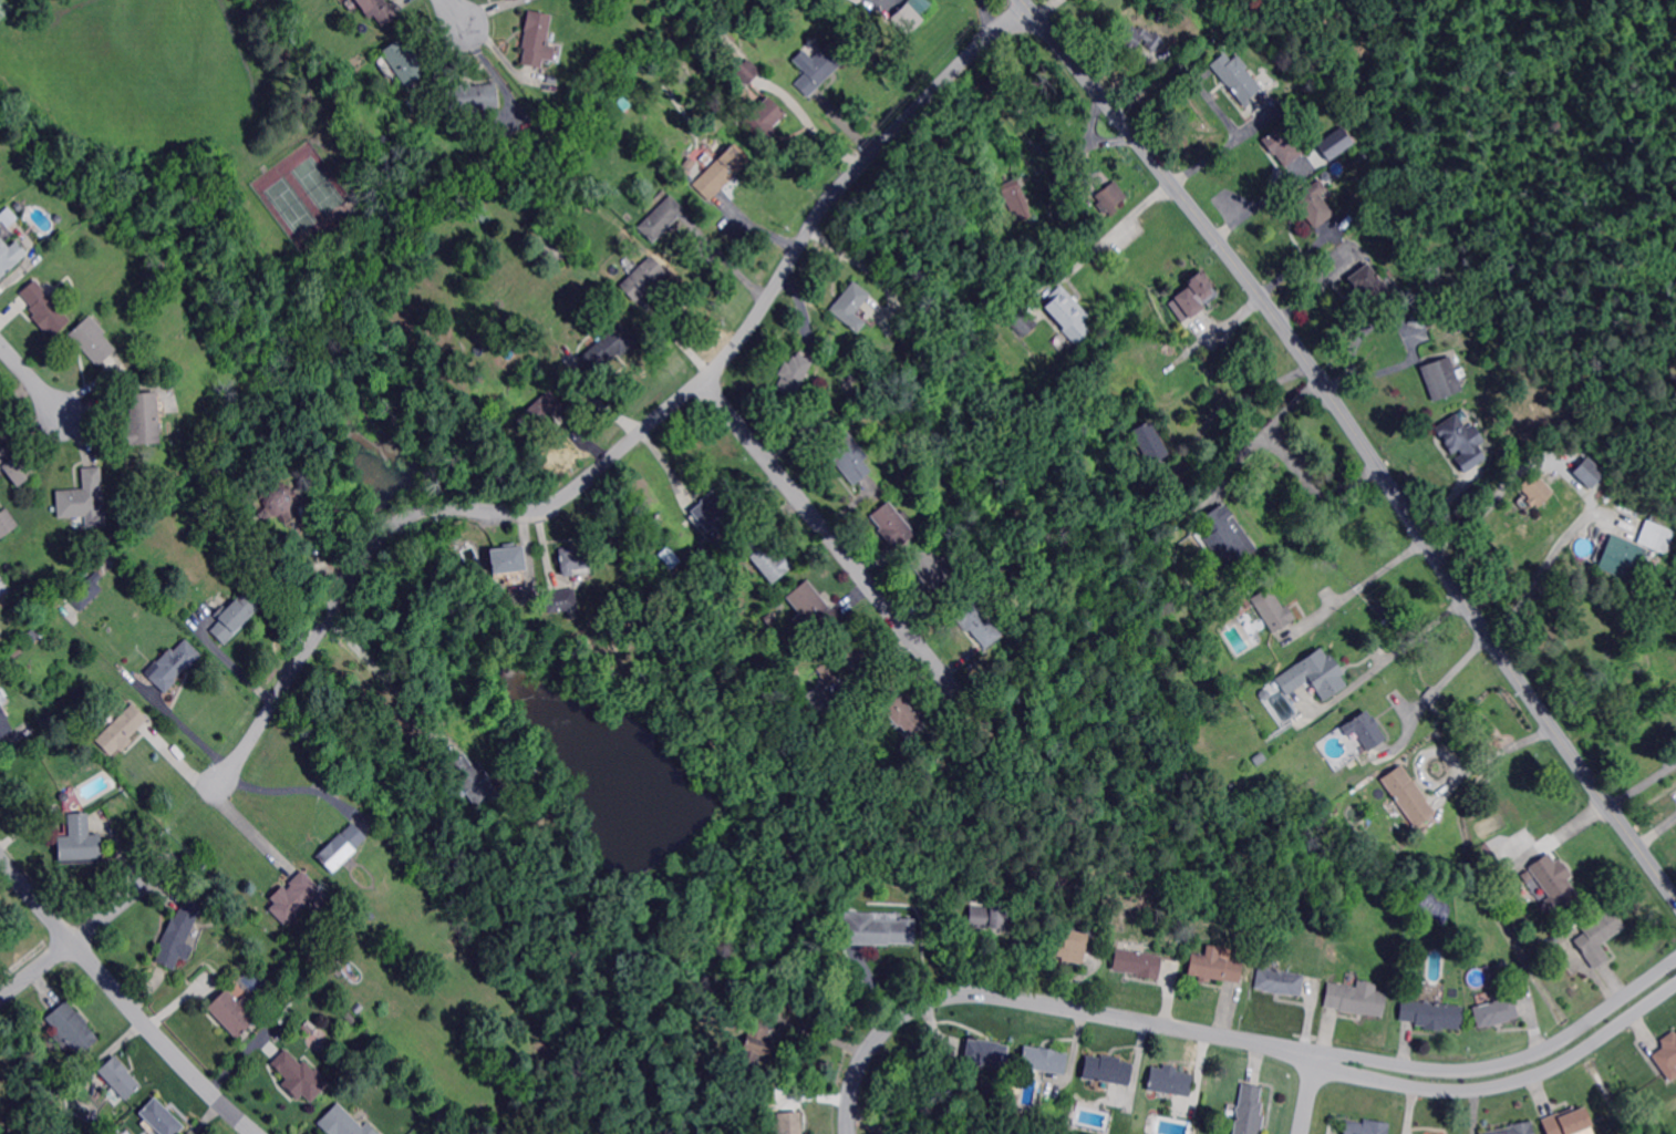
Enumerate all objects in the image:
building: (381, 10)
road: (457, 12)
road: (989, 16)
building: (907, 20)
building: (1139, 37)
building: (536, 39)
building: (404, 63)
building: (819, 66)
building: (746, 71)
building: (1238, 78)
road: (1210, 96)
building: (472, 100)
building: (623, 104)
building: (766, 117)
road: (820, 132)
building: (1333, 142)
building: (1282, 145)
building: (980, 151)
building: (1362, 156)
building: (689, 167)
building: (721, 173)
park: (302, 195)
building: (1016, 196)
building: (1111, 198)
road: (1258, 202)
building: (1314, 204)
building: (18, 207)
building: (483, 215)
building: (662, 218)
building: (6, 220)
road: (1115, 230)
building: (1400, 238)
building: (10, 256)
road: (728, 260)
building: (422, 269)
building: (149, 279)
building: (642, 279)
building: (1372, 285)
building: (1194, 298)
building: (1449, 305)
building: (852, 306)
building: (1438, 309)
building: (44, 310)
building: (1067, 315)
building: (1419, 317)
building: (1023, 322)
road: (1407, 336)
building: (93, 340)
building: (610, 347)
building: (795, 374)
building: (1152, 374)
building: (1440, 378)
road: (32, 379)
building: (542, 410)
building: (144, 419)
building: (0, 421)
building: (804, 423)
road: (1265, 430)
road: (638, 436)
road: (1361, 440)
building: (1458, 442)
building: (1150, 444)
building: (849, 456)
building: (14, 464)
building: (1587, 473)
building: (1535, 491)
building: (83, 497)
building: (278, 501)
building: (716, 508)
road: (1481, 512)
building: (656, 520)
building: (7, 523)
building: (893, 525)
road: (830, 536)
building: (455, 537)
building: (1227, 537)
building: (1654, 537)
building: (703, 550)
building: (765, 557)
building: (1621, 558)
building: (573, 560)
building: (508, 565)
building: (9, 569)
building: (928, 569)
building: (1209, 571)
road: (1539, 577)
road: (1361, 583)
building: (83, 597)
building: (561, 600)
building: (814, 606)
building: (1272, 610)
building: (234, 617)
building: (976, 622)
building: (35, 636)
road: (1399, 647)
building: (852, 652)
building: (1654, 662)
building: (175, 664)
building: (827, 674)
building: (1314, 674)
road: (385, 680)
road: (1432, 688)
building: (818, 700)
building: (898, 709)
building: (4, 718)
building: (49, 720)
building: (123, 730)
building: (1368, 730)
road: (1490, 753)
building: (1354, 762)
building: (473, 780)
road: (1642, 780)
building: (1375, 781)
road: (297, 787)
building: (1409, 796)
road: (232, 803)
road: (1569, 828)
building: (81, 842)
building: (343, 846)
building: (1554, 882)
building: (299, 897)
road: (126, 899)
building: (993, 916)
building: (376, 917)
building: (1521, 925)
building: (878, 930)
building: (179, 935)
building: (1600, 936)
building: (1553, 940)
building: (1073, 946)
building: (315, 962)
building: (1138, 963)
building: (1213, 966)
road: (37, 971)
building: (1277, 982)
building: (757, 994)
road: (124, 999)
building: (1356, 1000)
building: (360, 1008)
building: (1496, 1012)
building: (234, 1013)
building: (1432, 1014)
building: (73, 1028)
building: (308, 1028)
road: (1234, 1038)
building: (755, 1045)
building: (986, 1053)
building: (1667, 1053)
building: (1045, 1060)
building: (1108, 1070)
building: (299, 1075)
building: (121, 1078)
building: (1171, 1081)
road: (1310, 1095)
building: (1250, 1111)
building: (162, 1117)
building: (1568, 1122)
building: (345, 1123)
building: (789, 1123)
building: (1366, 1127)
building: (1515, 1128)

